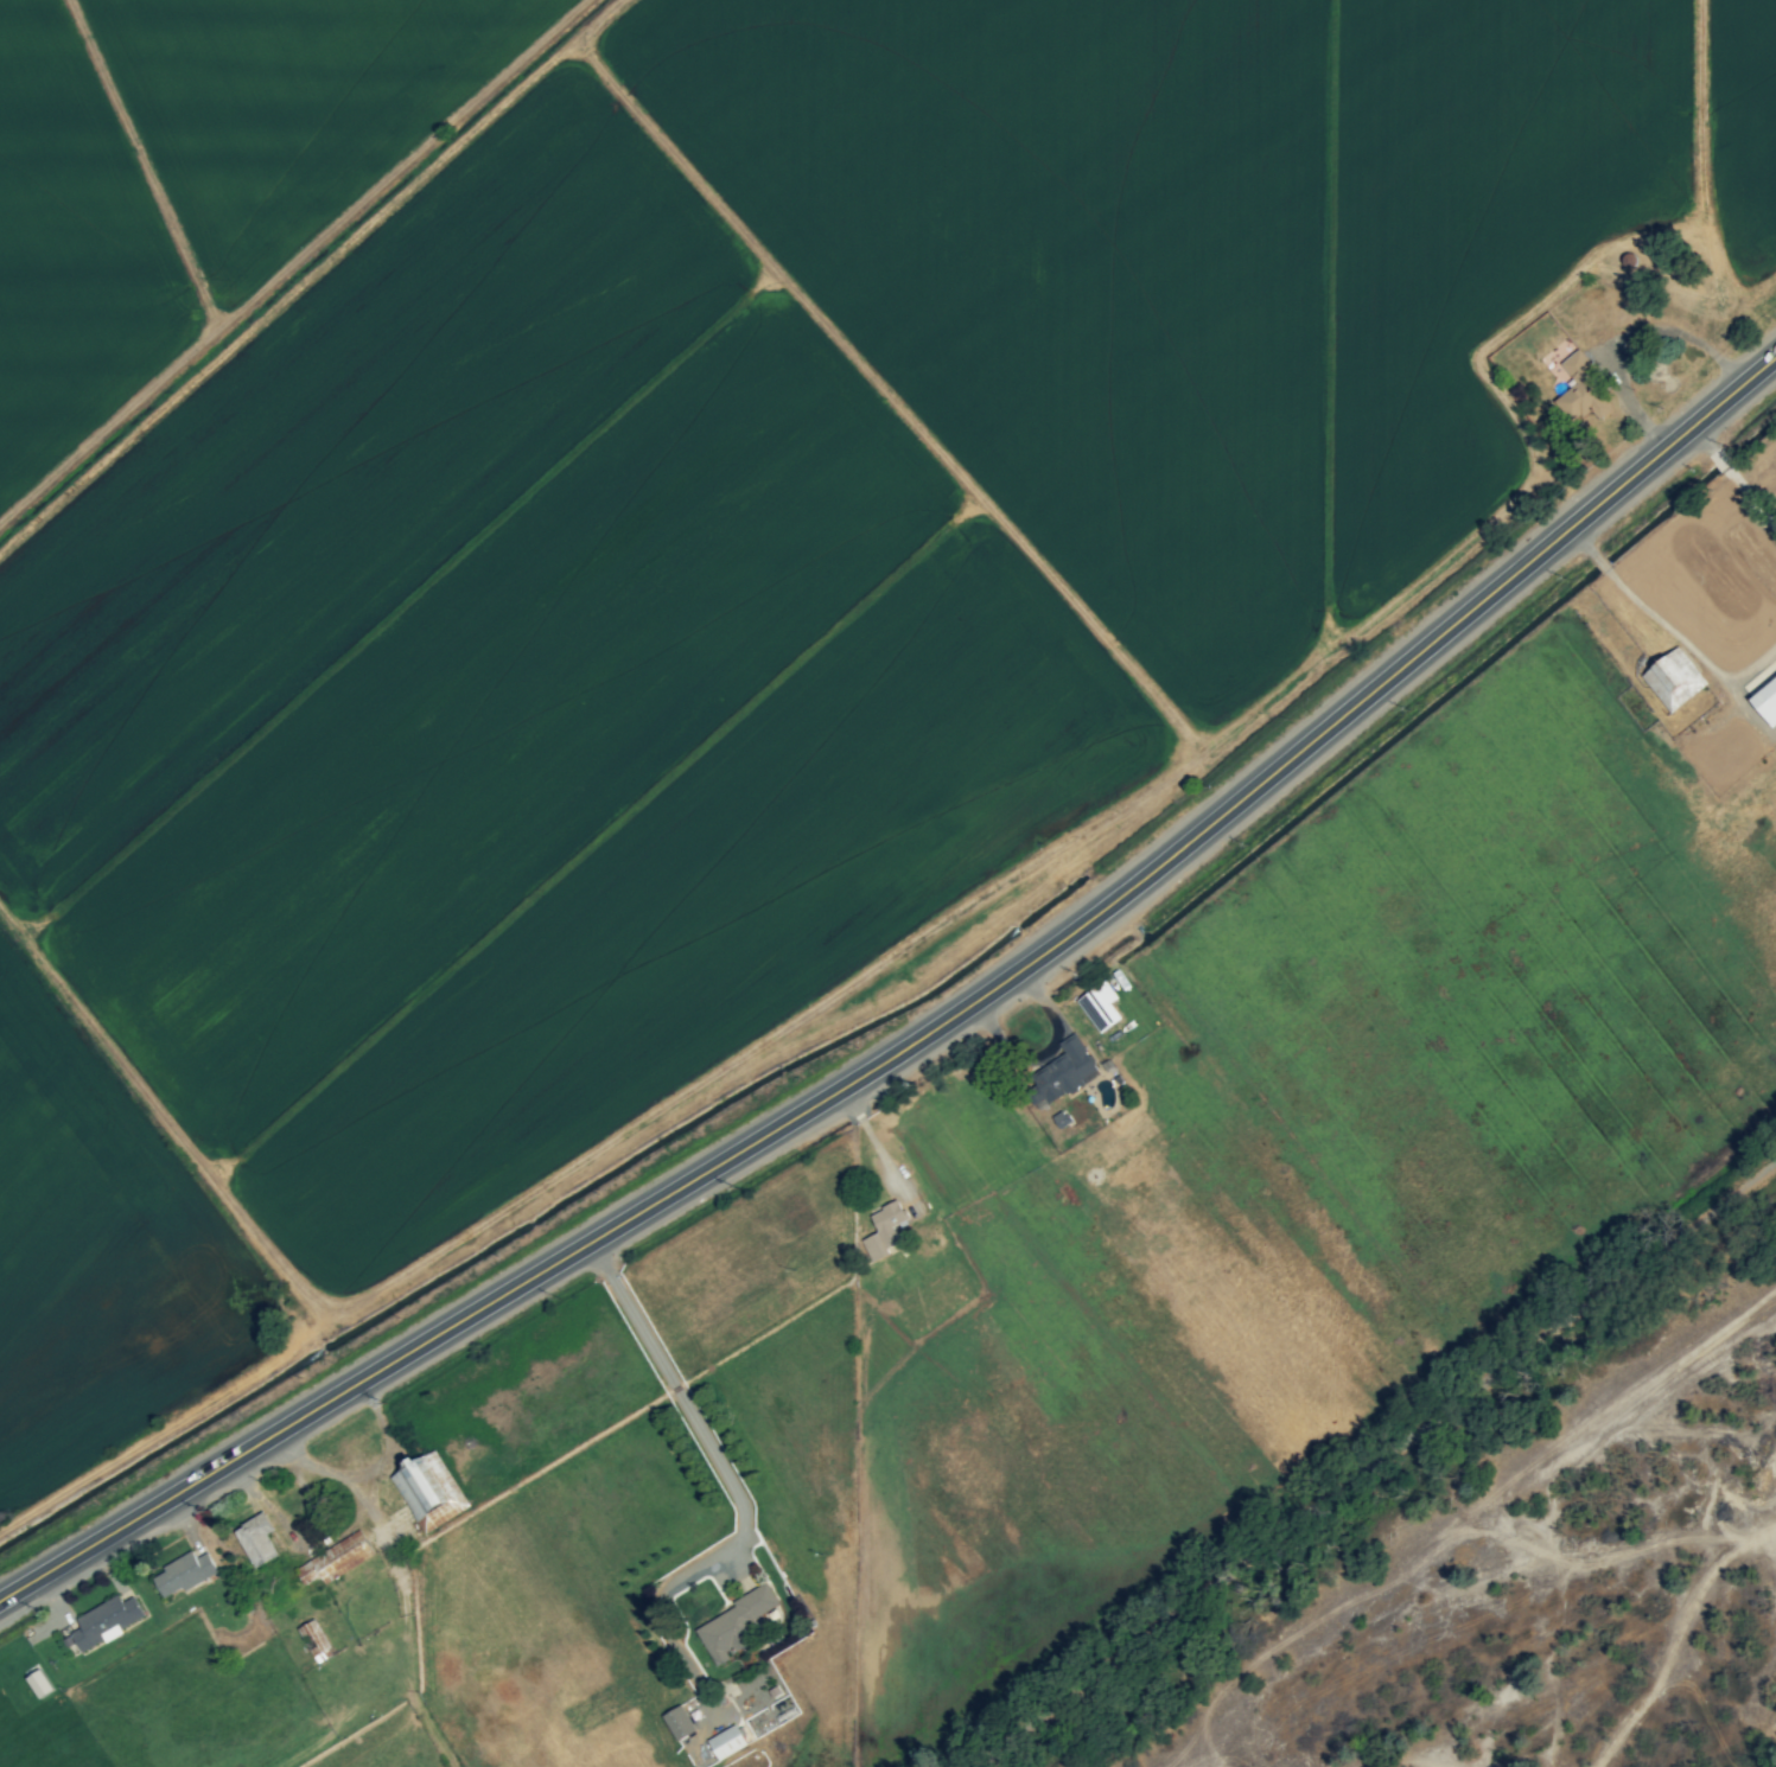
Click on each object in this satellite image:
road: (1630, 342)
building: (1578, 390)
road: (1734, 481)
road: (1643, 607)
building: (1670, 680)
building: (1764, 702)
building: (1097, 1008)
road: (929, 1039)
building: (1058, 1076)
building: (1058, 1121)
building: (881, 1231)
road: (683, 1396)
building: (253, 1542)
building: (336, 1561)
building: (179, 1576)
building: (101, 1624)
building: (732, 1625)
building: (313, 1642)
building: (675, 1724)
building: (750, 1730)
building: (724, 1744)

